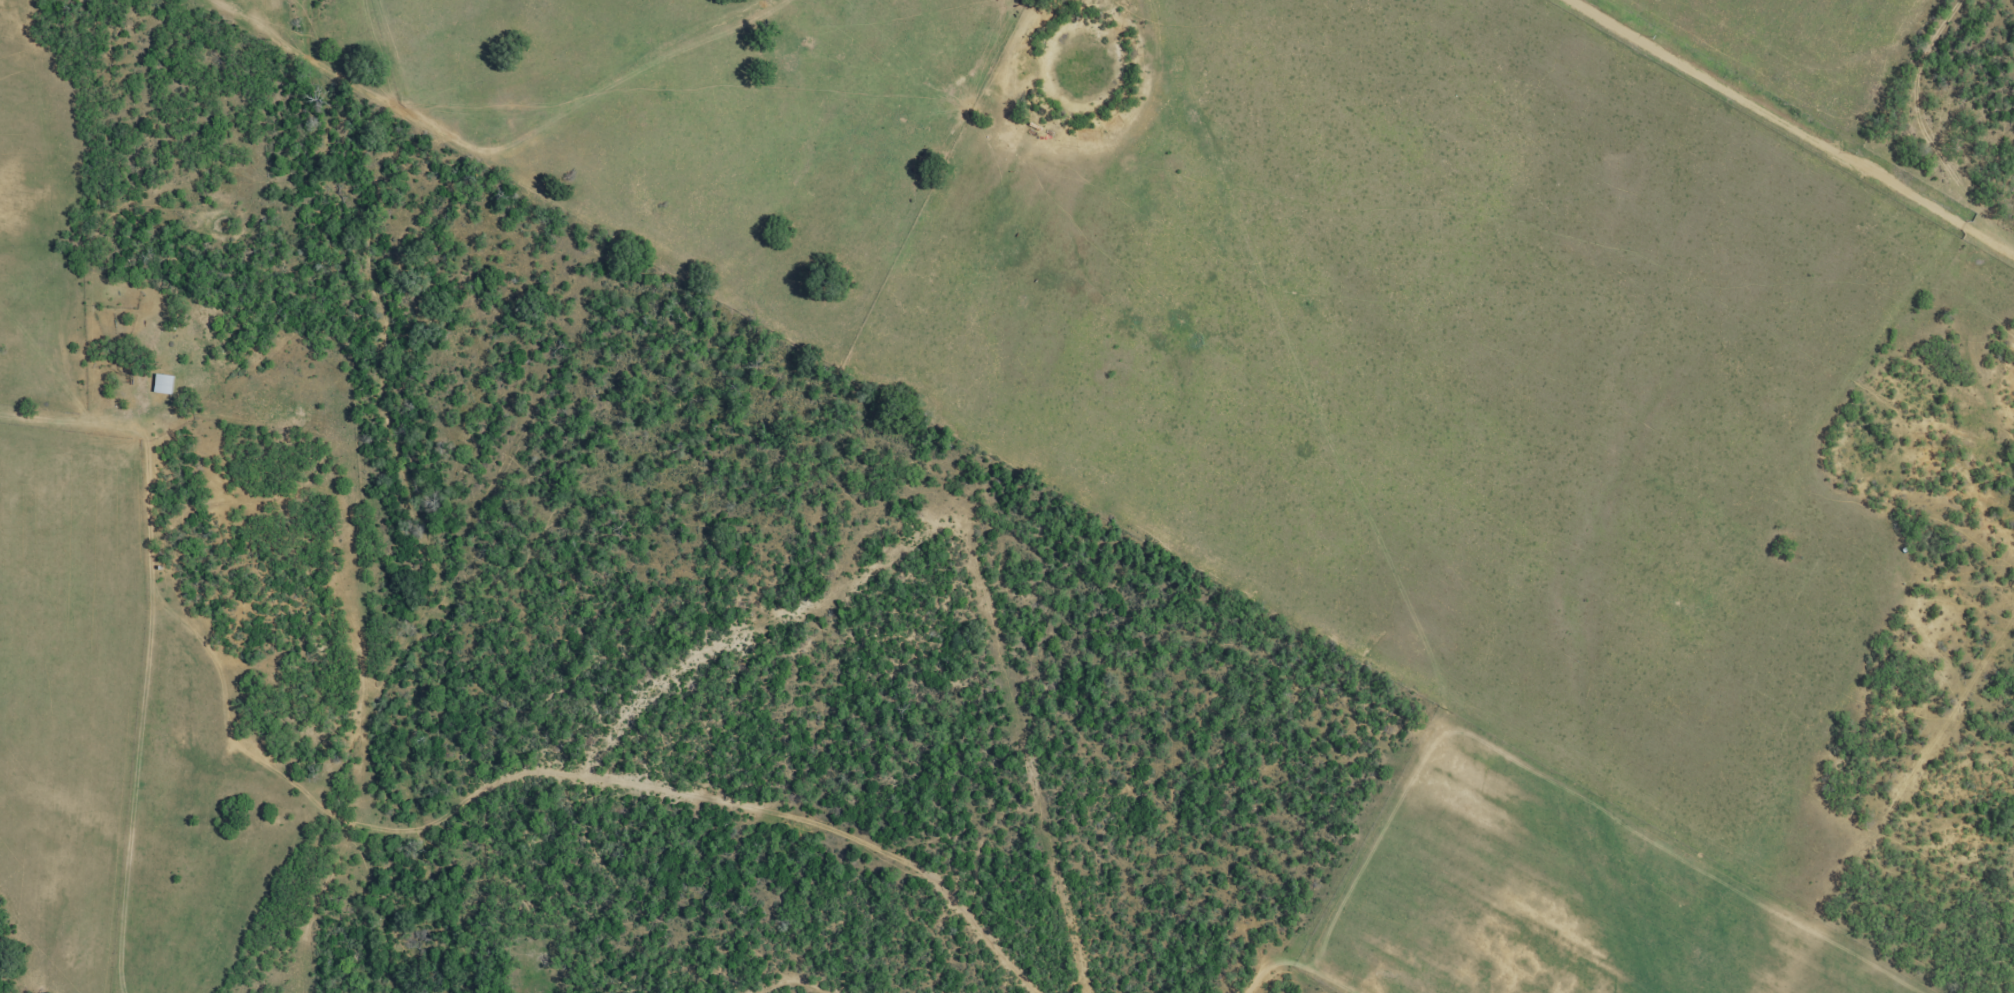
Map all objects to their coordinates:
road: (1790, 127)
building: (164, 383)

